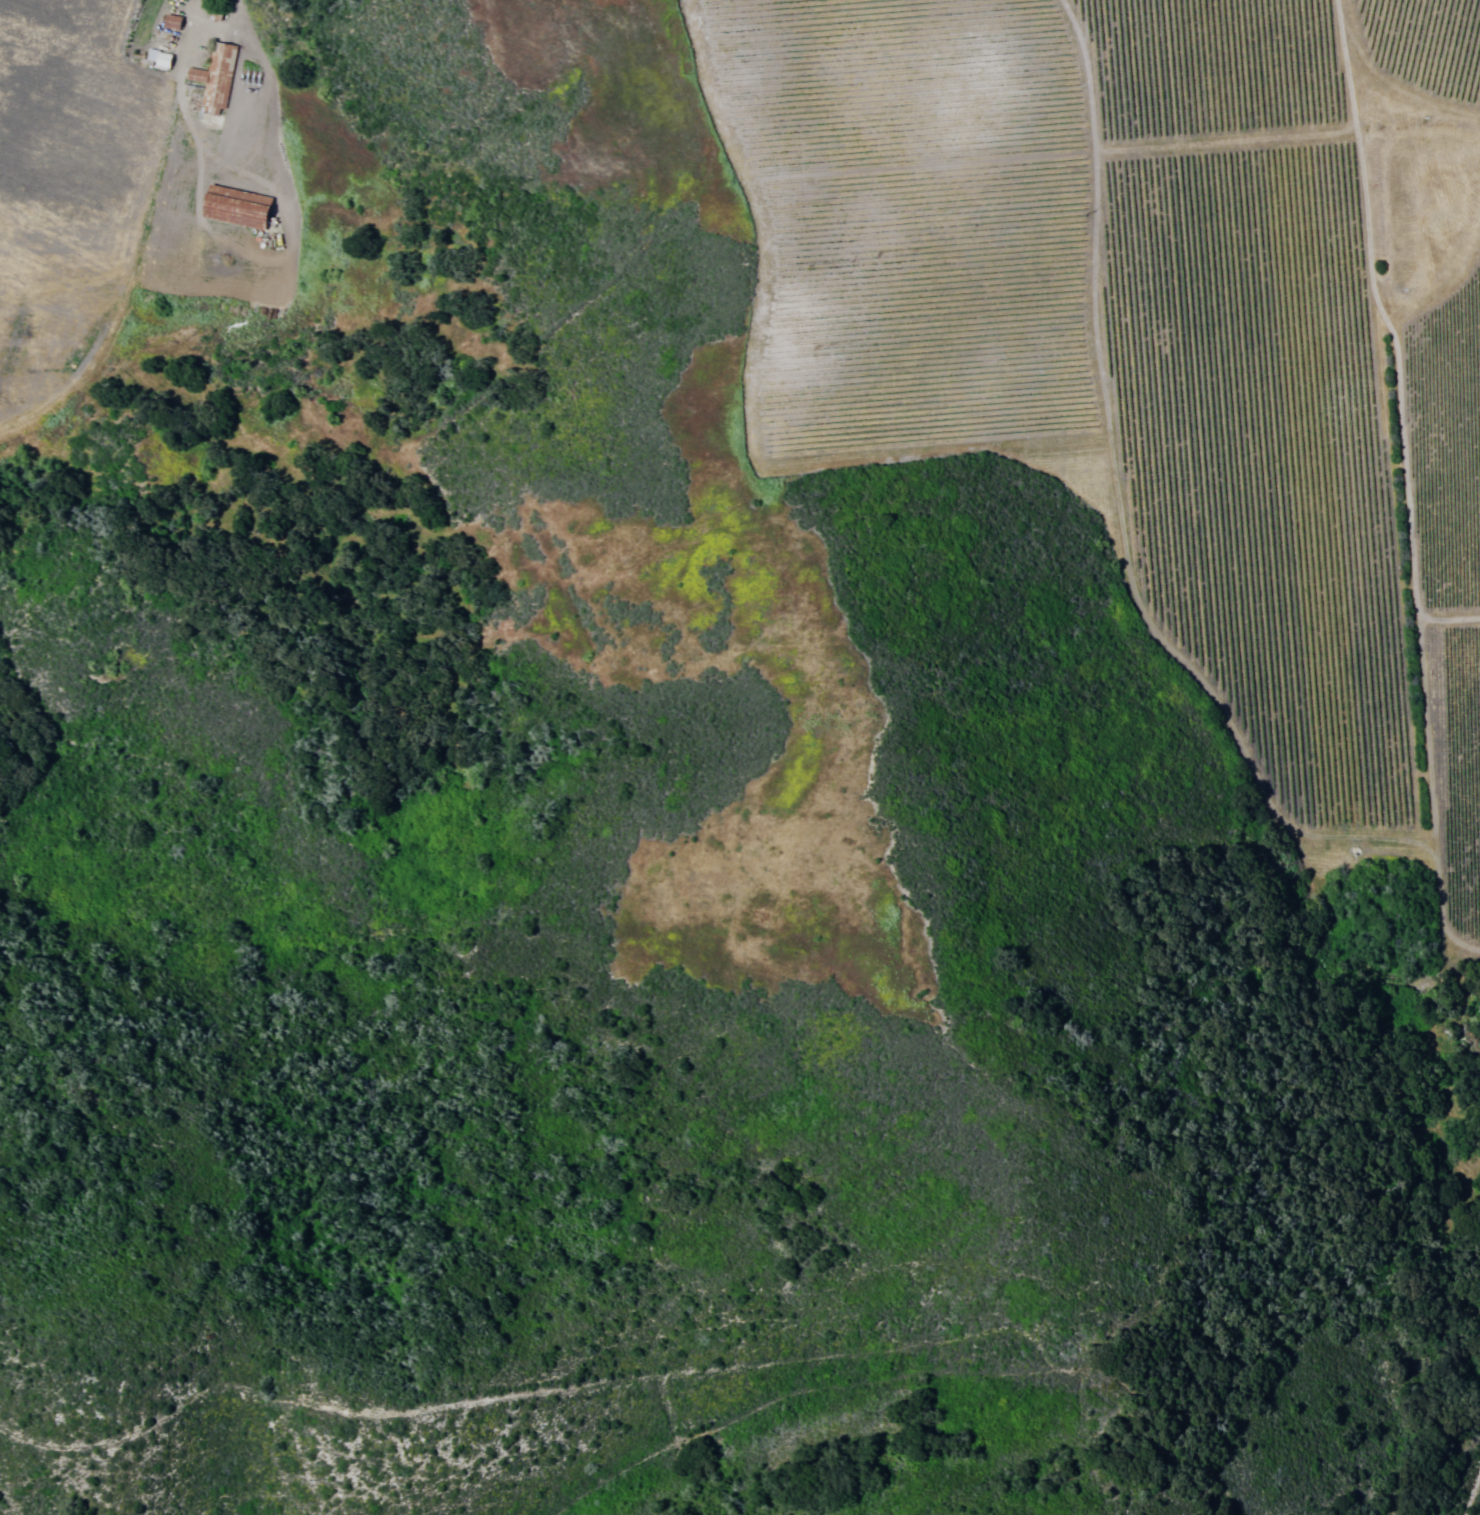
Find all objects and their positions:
road: (450, 2)
building: (169, 21)
building: (160, 58)
building: (213, 77)
crop: (82, 131)
building: (232, 206)
crop: (1169, 325)

